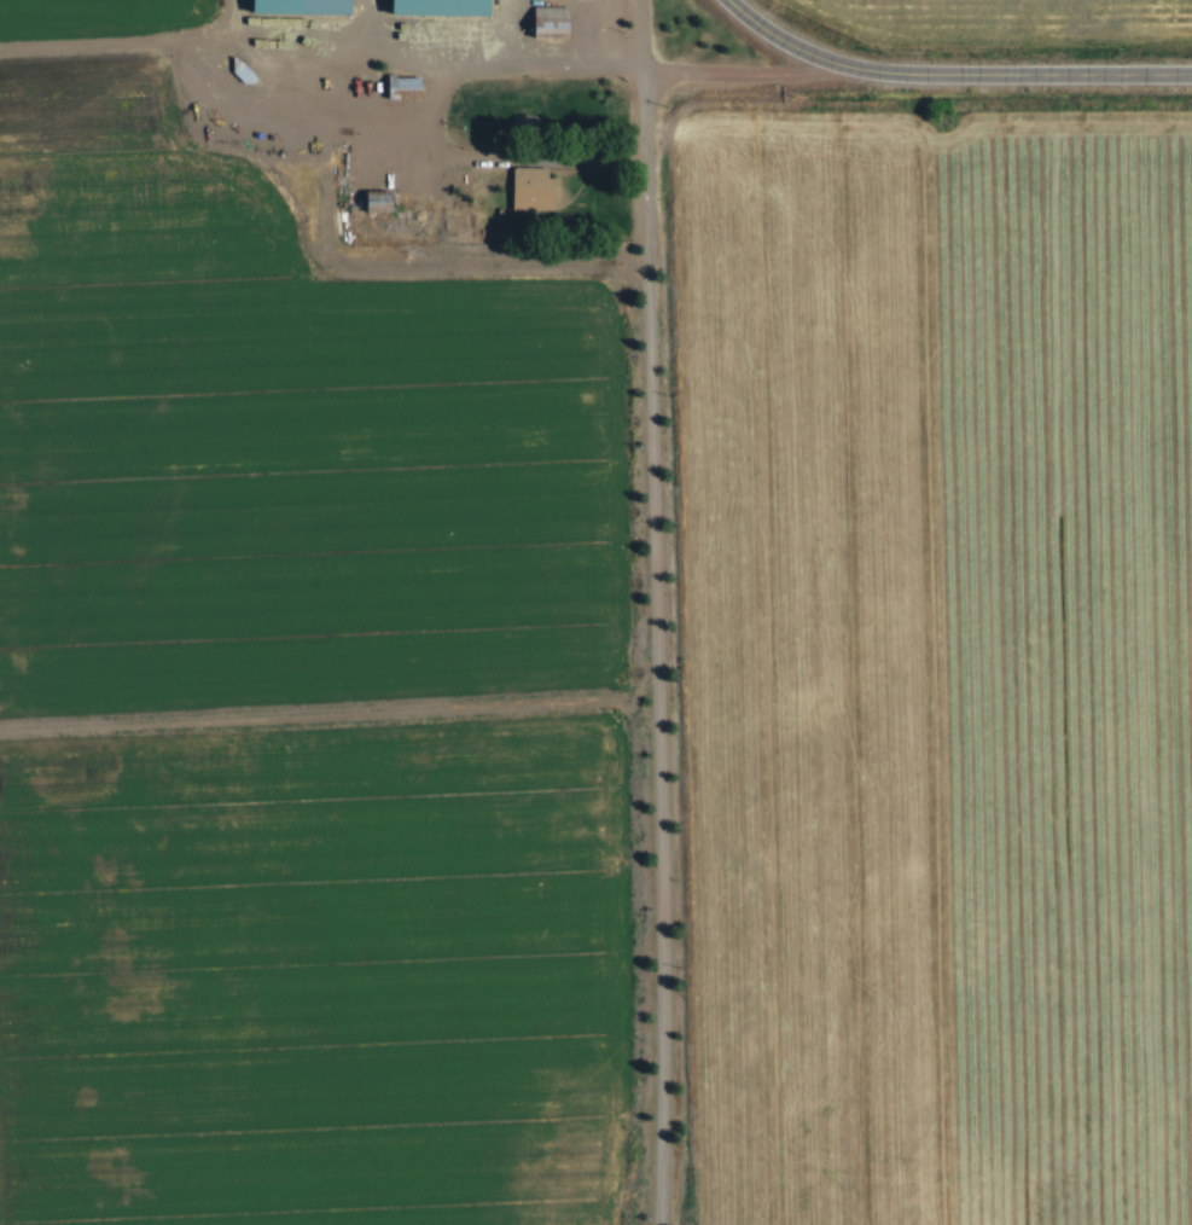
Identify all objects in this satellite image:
building: (313, 6)
building: (450, 7)
crop: (105, 16)
crop: (1019, 19)
building: (564, 22)
road: (325, 42)
road: (478, 70)
road: (953, 74)
road: (750, 75)
building: (419, 88)
road: (316, 120)
road: (516, 158)
building: (545, 193)
building: (393, 202)
road: (436, 266)
crop: (285, 440)
road: (658, 611)
crop: (942, 658)
crop: (326, 974)

